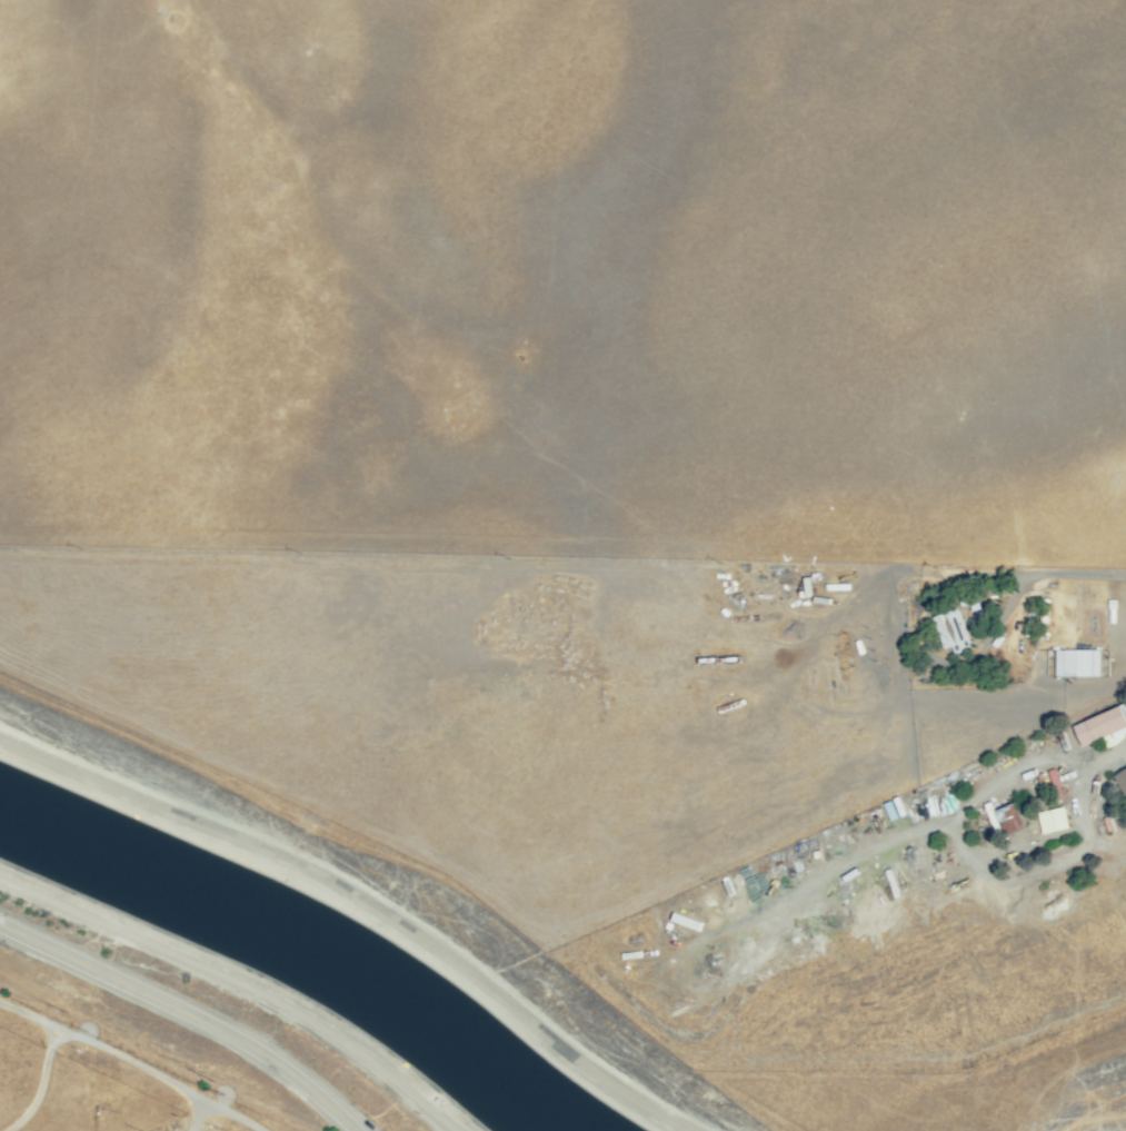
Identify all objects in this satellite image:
road: (957, 569)
building: (949, 629)
building: (1077, 661)
building: (1099, 724)
road: (1108, 751)
building: (1120, 780)
road: (159, 797)
building: (1009, 817)
building: (1053, 819)
road: (859, 853)
road: (977, 860)
building: (896, 881)
road: (514, 1001)
road: (190, 1011)
road: (33, 1018)
road: (46, 1034)
road: (167, 1079)
road: (42, 1084)

